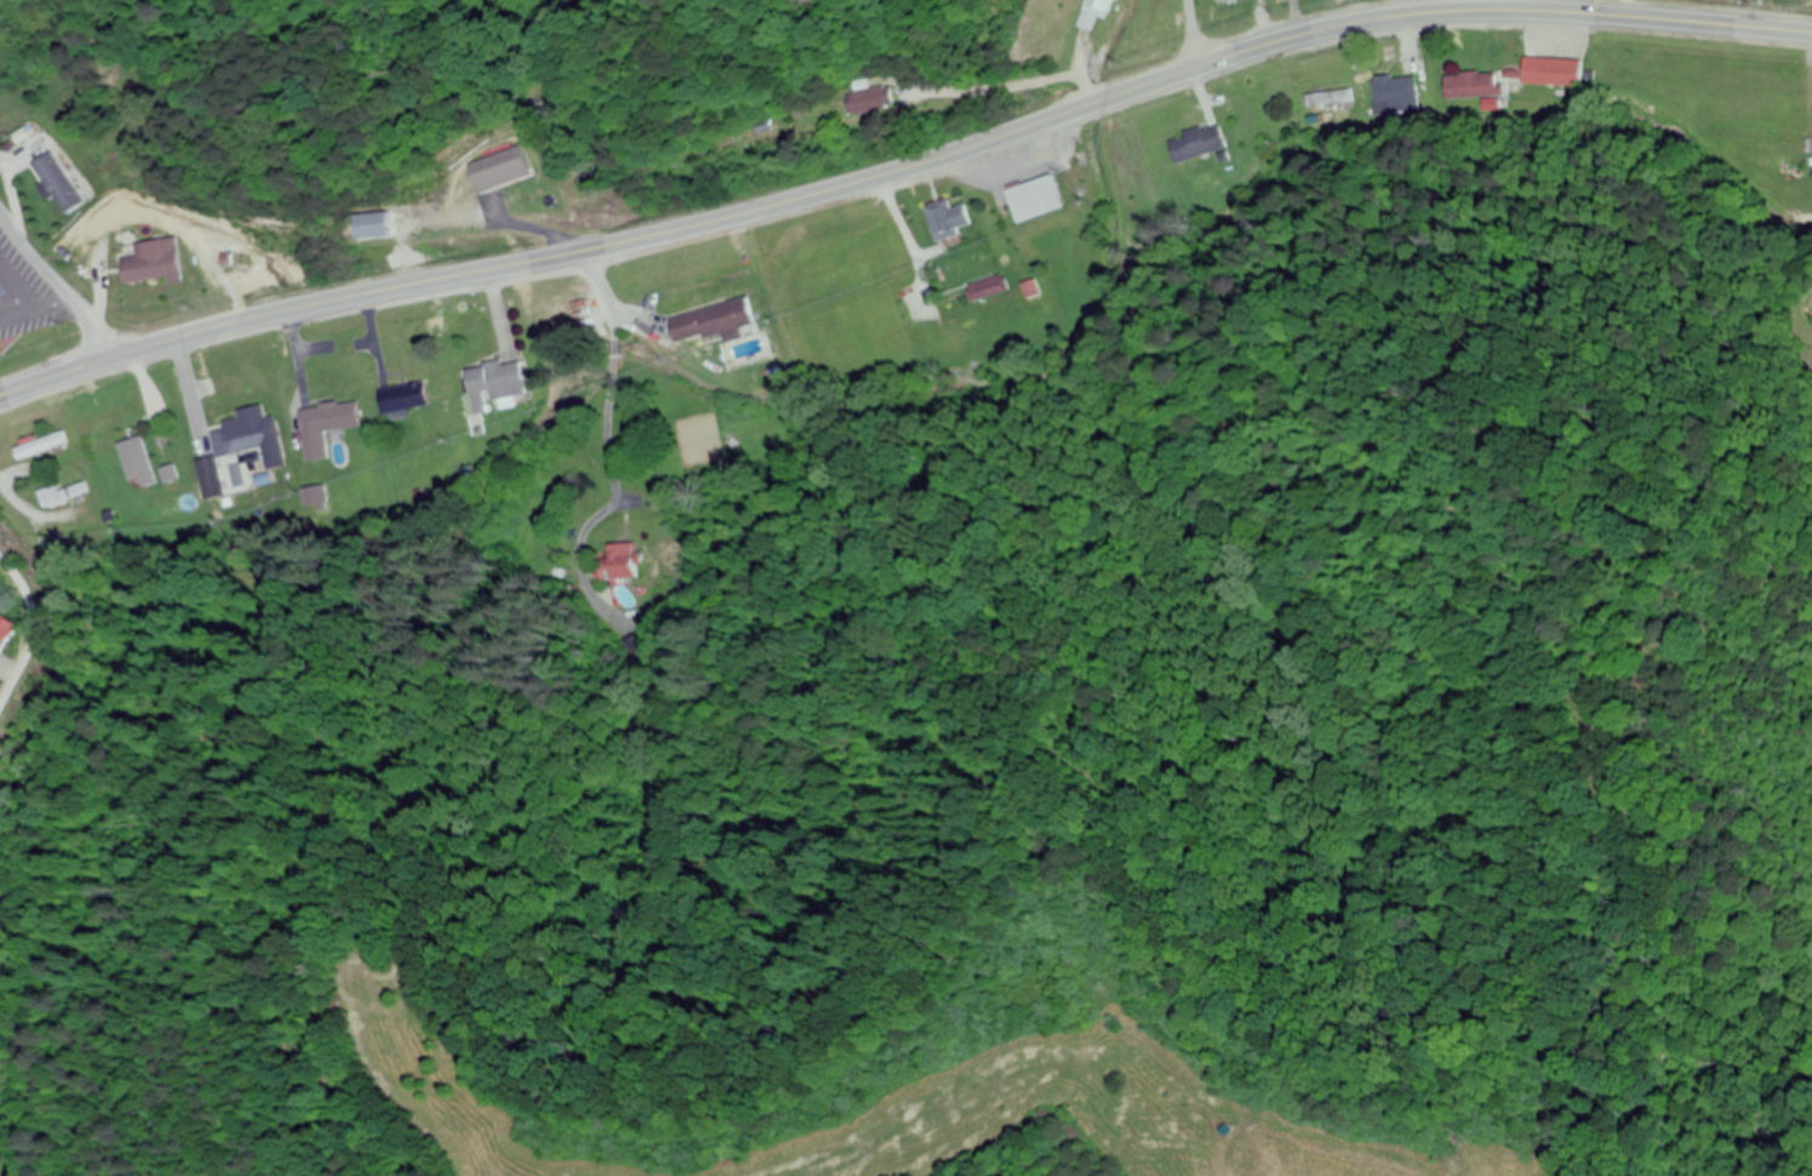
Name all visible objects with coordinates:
building: (1229, 1)
building: (1099, 11)
road: (1191, 34)
building: (1553, 70)
building: (1477, 89)
building: (1396, 93)
building: (873, 97)
building: (1334, 101)
building: (1199, 143)
road: (903, 169)
building: (62, 182)
building: (524, 196)
building: (1036, 199)
building: (948, 218)
building: (378, 224)
building: (148, 266)
road: (56, 286)
building: (987, 289)
building: (710, 321)
building: (1, 332)
building: (498, 379)
building: (404, 398)
road: (625, 410)
building: (326, 427)
building: (251, 436)
building: (41, 445)
building: (139, 461)
building: (210, 469)
building: (62, 495)
building: (316, 501)
building: (624, 573)
road: (34, 629)
building: (6, 632)

